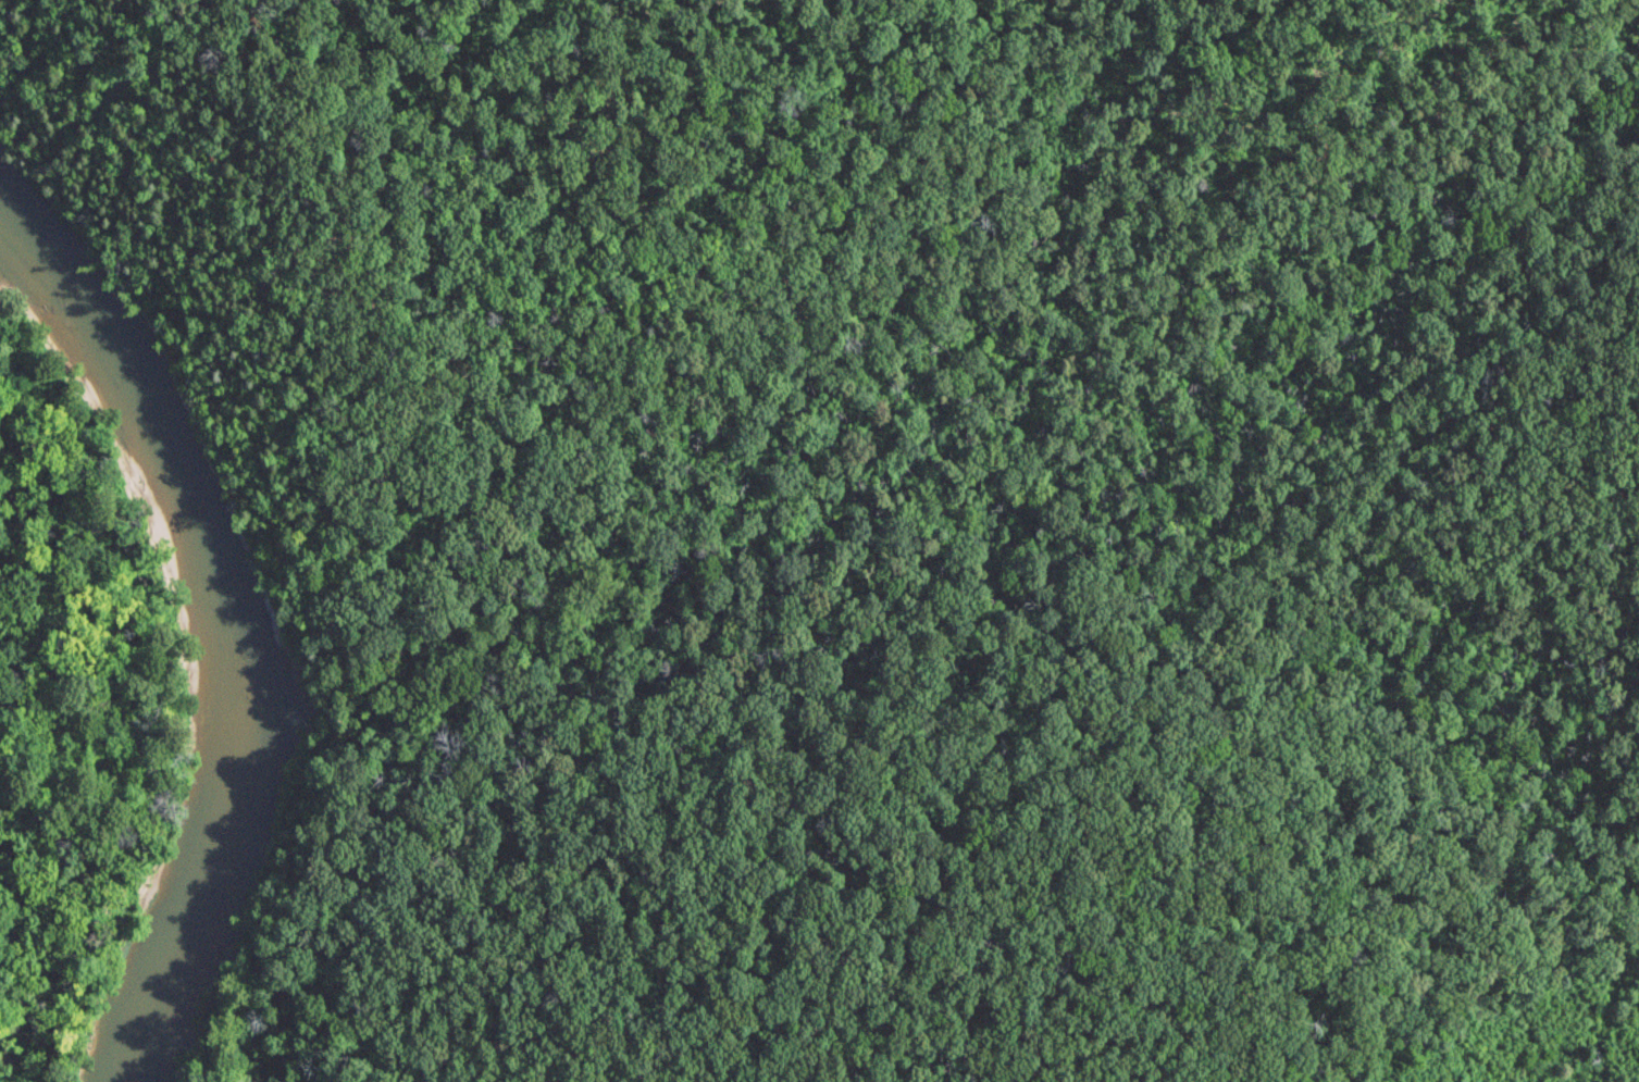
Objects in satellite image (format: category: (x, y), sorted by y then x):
river: (232, 623)

